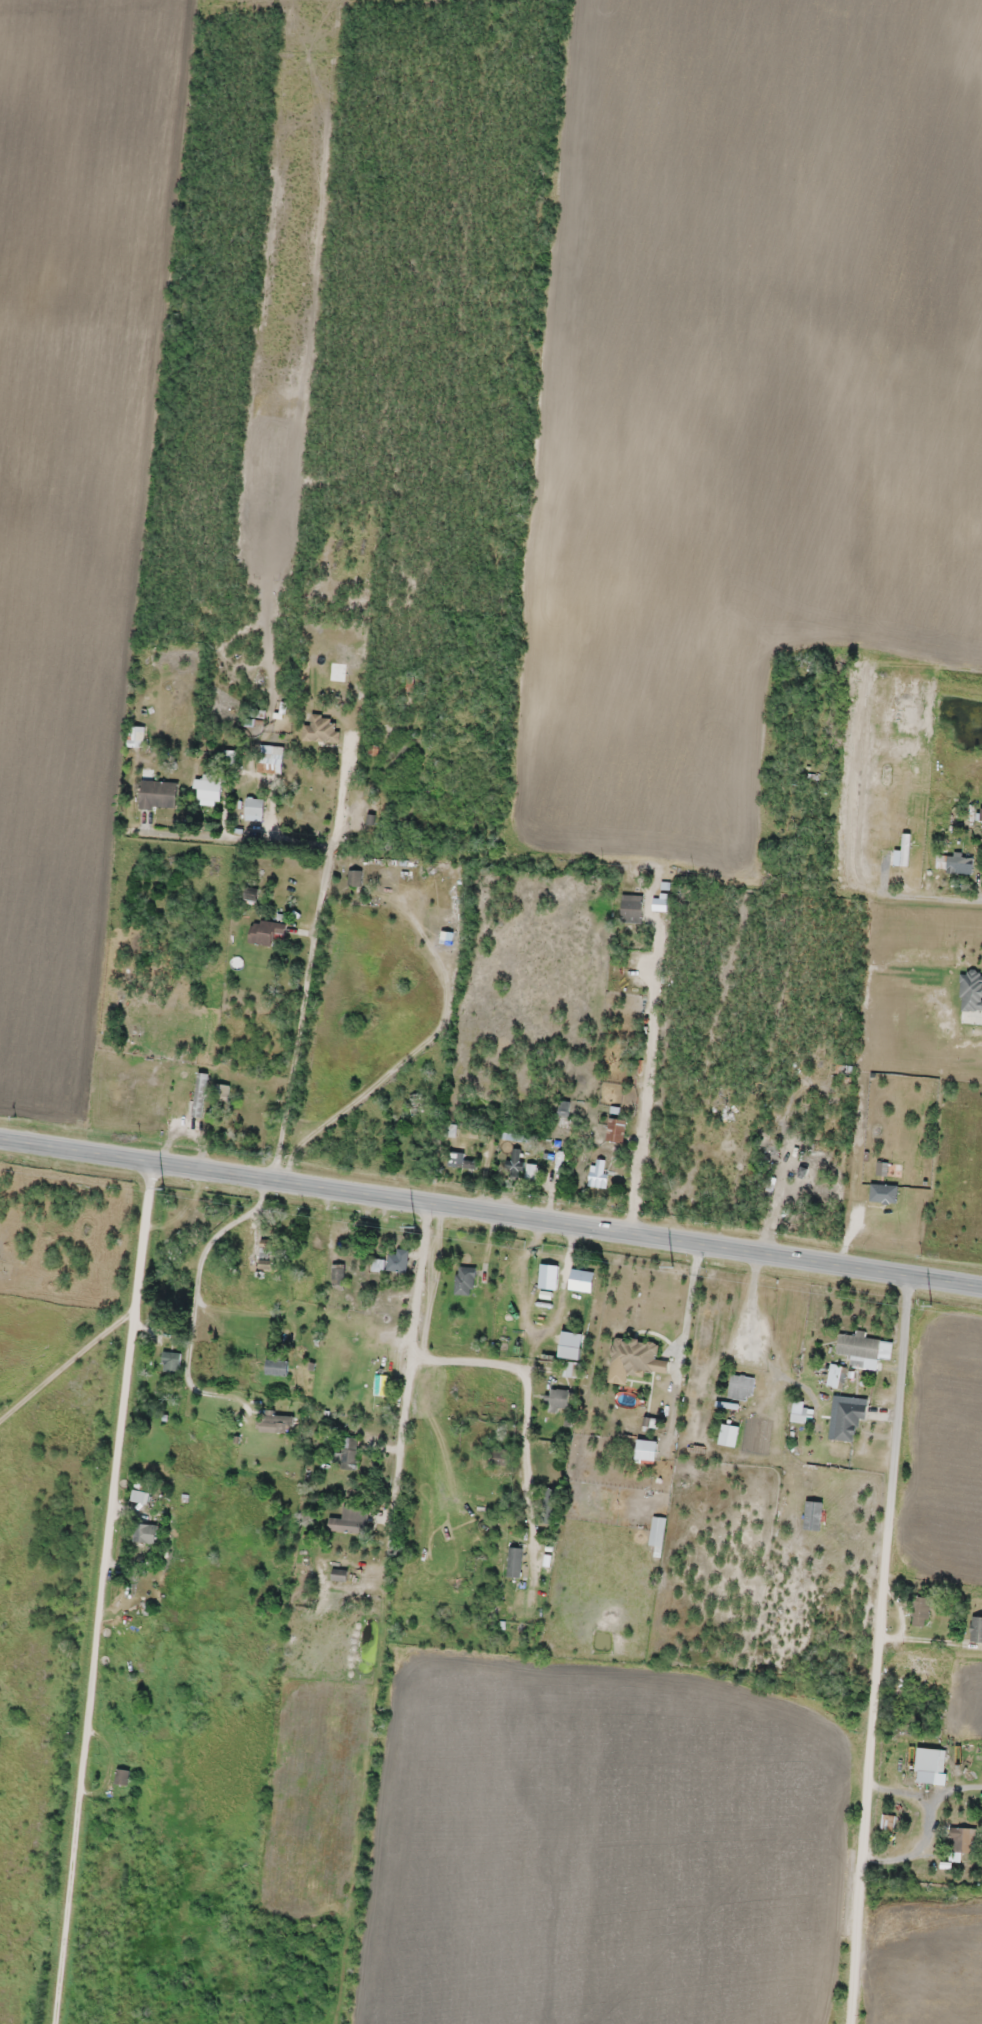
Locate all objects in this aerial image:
building: (137, 736)
building: (271, 763)
building: (210, 786)
building: (159, 794)
building: (255, 805)
building: (927, 828)
building: (955, 863)
building: (355, 877)
road: (929, 897)
building: (632, 908)
building: (266, 931)
building: (448, 937)
building: (971, 991)
building: (616, 1065)
building: (118, 1090)
building: (222, 1091)
road: (646, 1098)
building: (414, 1104)
building: (156, 1108)
building: (564, 1111)
building: (617, 1130)
road: (816, 1130)
building: (516, 1161)
building: (465, 1163)
building: (531, 1171)
building: (600, 1173)
road: (491, 1213)
building: (267, 1252)
building: (398, 1260)
building: (339, 1274)
road: (240, 1275)
building: (466, 1280)
building: (582, 1280)
building: (383, 1313)
building: (864, 1346)
building: (633, 1354)
building: (172, 1361)
road: (412, 1365)
building: (241, 1366)
building: (277, 1366)
road: (523, 1368)
building: (571, 1368)
building: (839, 1377)
building: (380, 1384)
building: (741, 1386)
building: (559, 1399)
building: (849, 1420)
building: (281, 1422)
building: (729, 1434)
building: (349, 1453)
building: (500, 1455)
building: (143, 1490)
building: (549, 1505)
building: (351, 1520)
building: (658, 1530)
building: (144, 1532)
building: (515, 1561)
road: (101, 1592)
building: (921, 1611)
building: (977, 1628)
road: (880, 1651)
building: (931, 1760)
building: (123, 1775)
building: (964, 1839)
park: (278, 2020)

